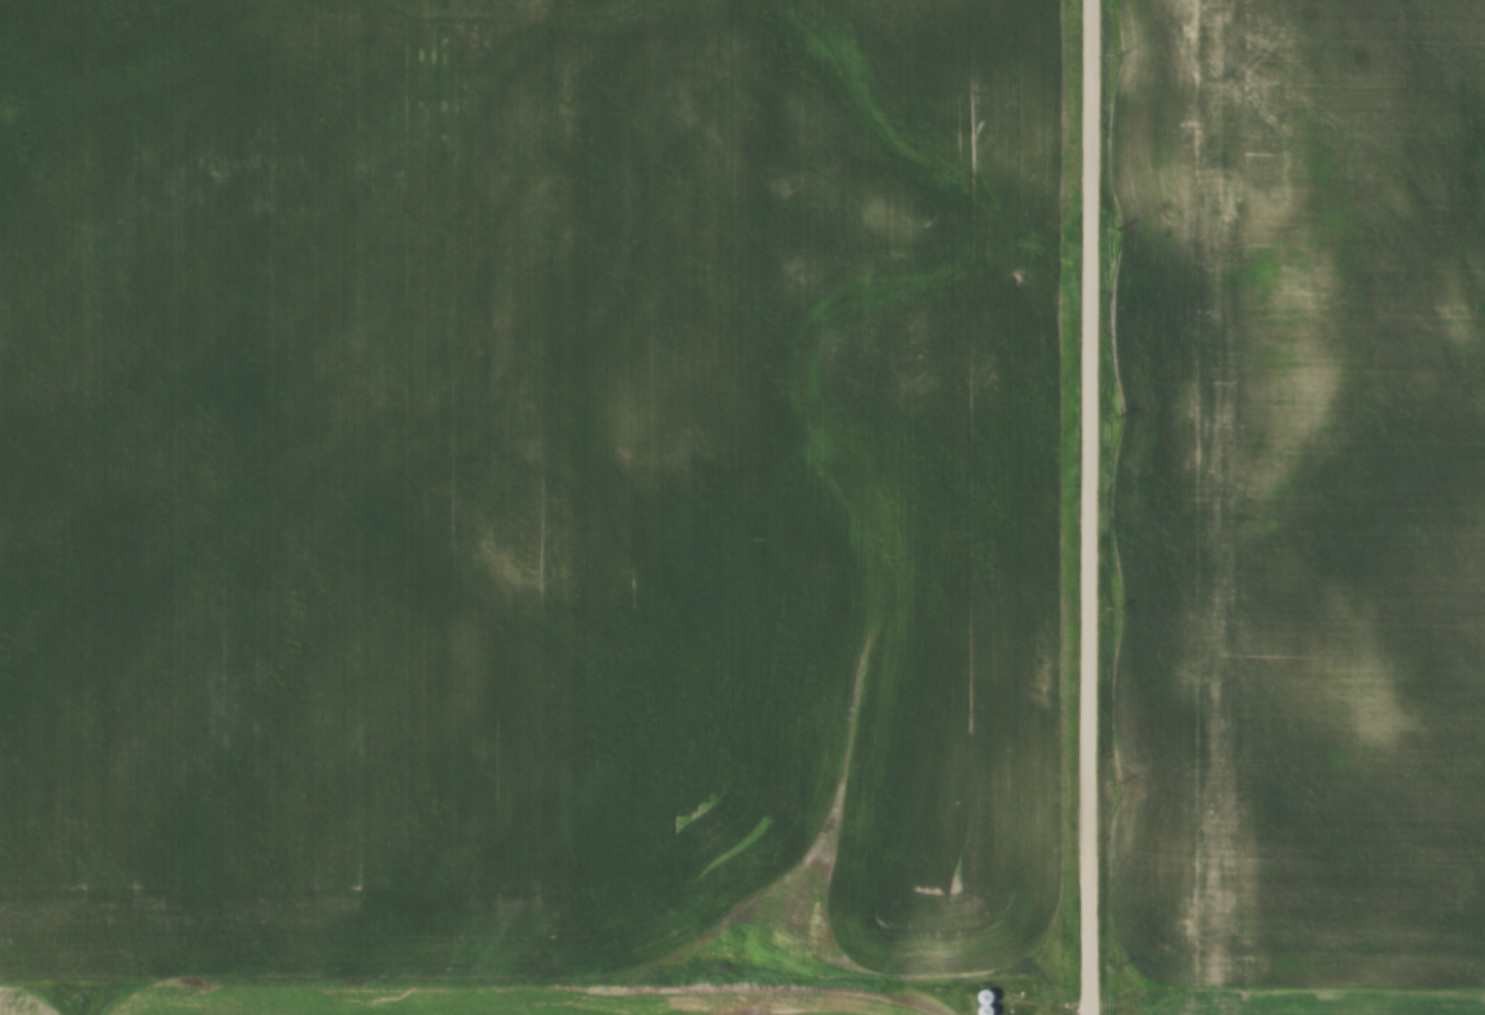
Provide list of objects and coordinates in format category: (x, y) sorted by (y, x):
road: (1092, 507)
building: (984, 989)
silo: (984, 989)
road: (1071, 1001)
building: (984, 1004)
silo: (984, 1004)
road: (864, 1011)
building: (999, 1013)
silo: (999, 1013)

